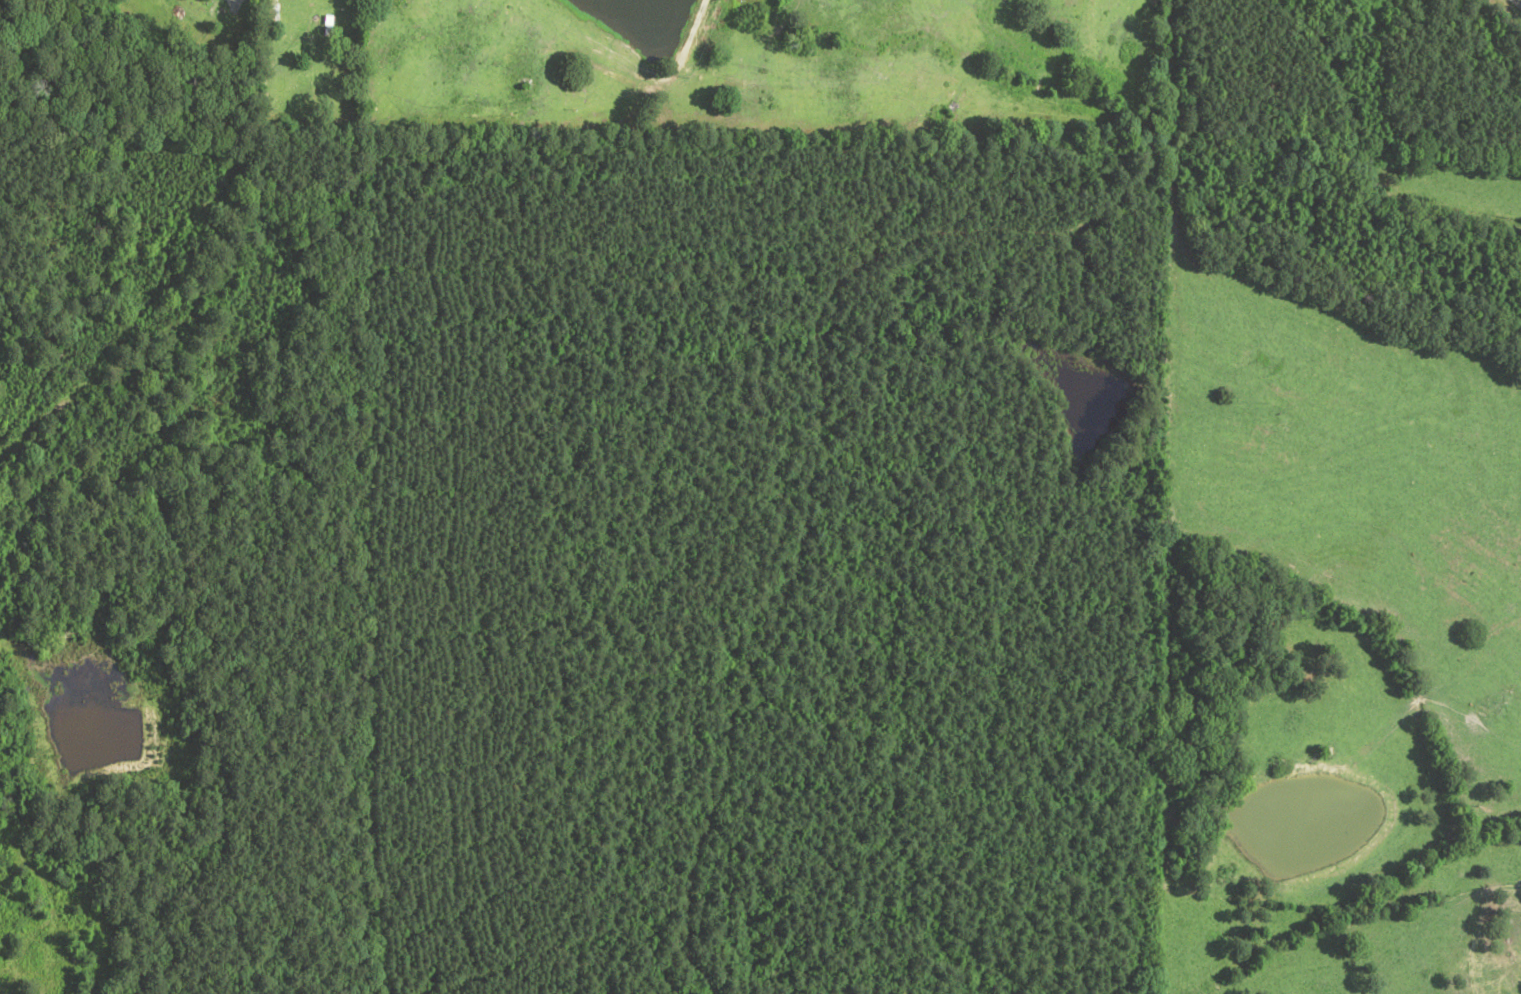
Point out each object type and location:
road: (1519, 1)

